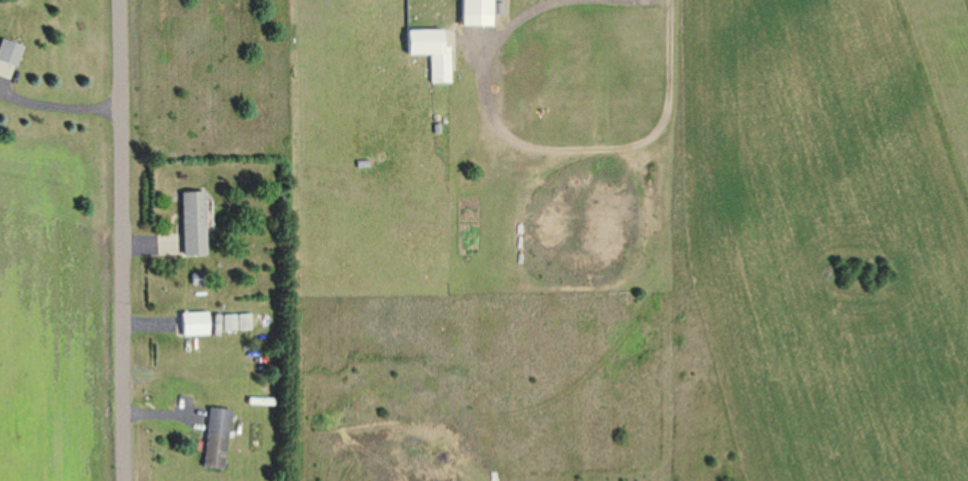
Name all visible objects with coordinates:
building: (475, 13)
building: (9, 52)
building: (430, 52)
road: (55, 100)
road: (515, 144)
building: (190, 223)
road: (120, 240)
airport: (835, 240)
crop: (57, 311)
building: (236, 322)
building: (192, 324)
building: (214, 438)

